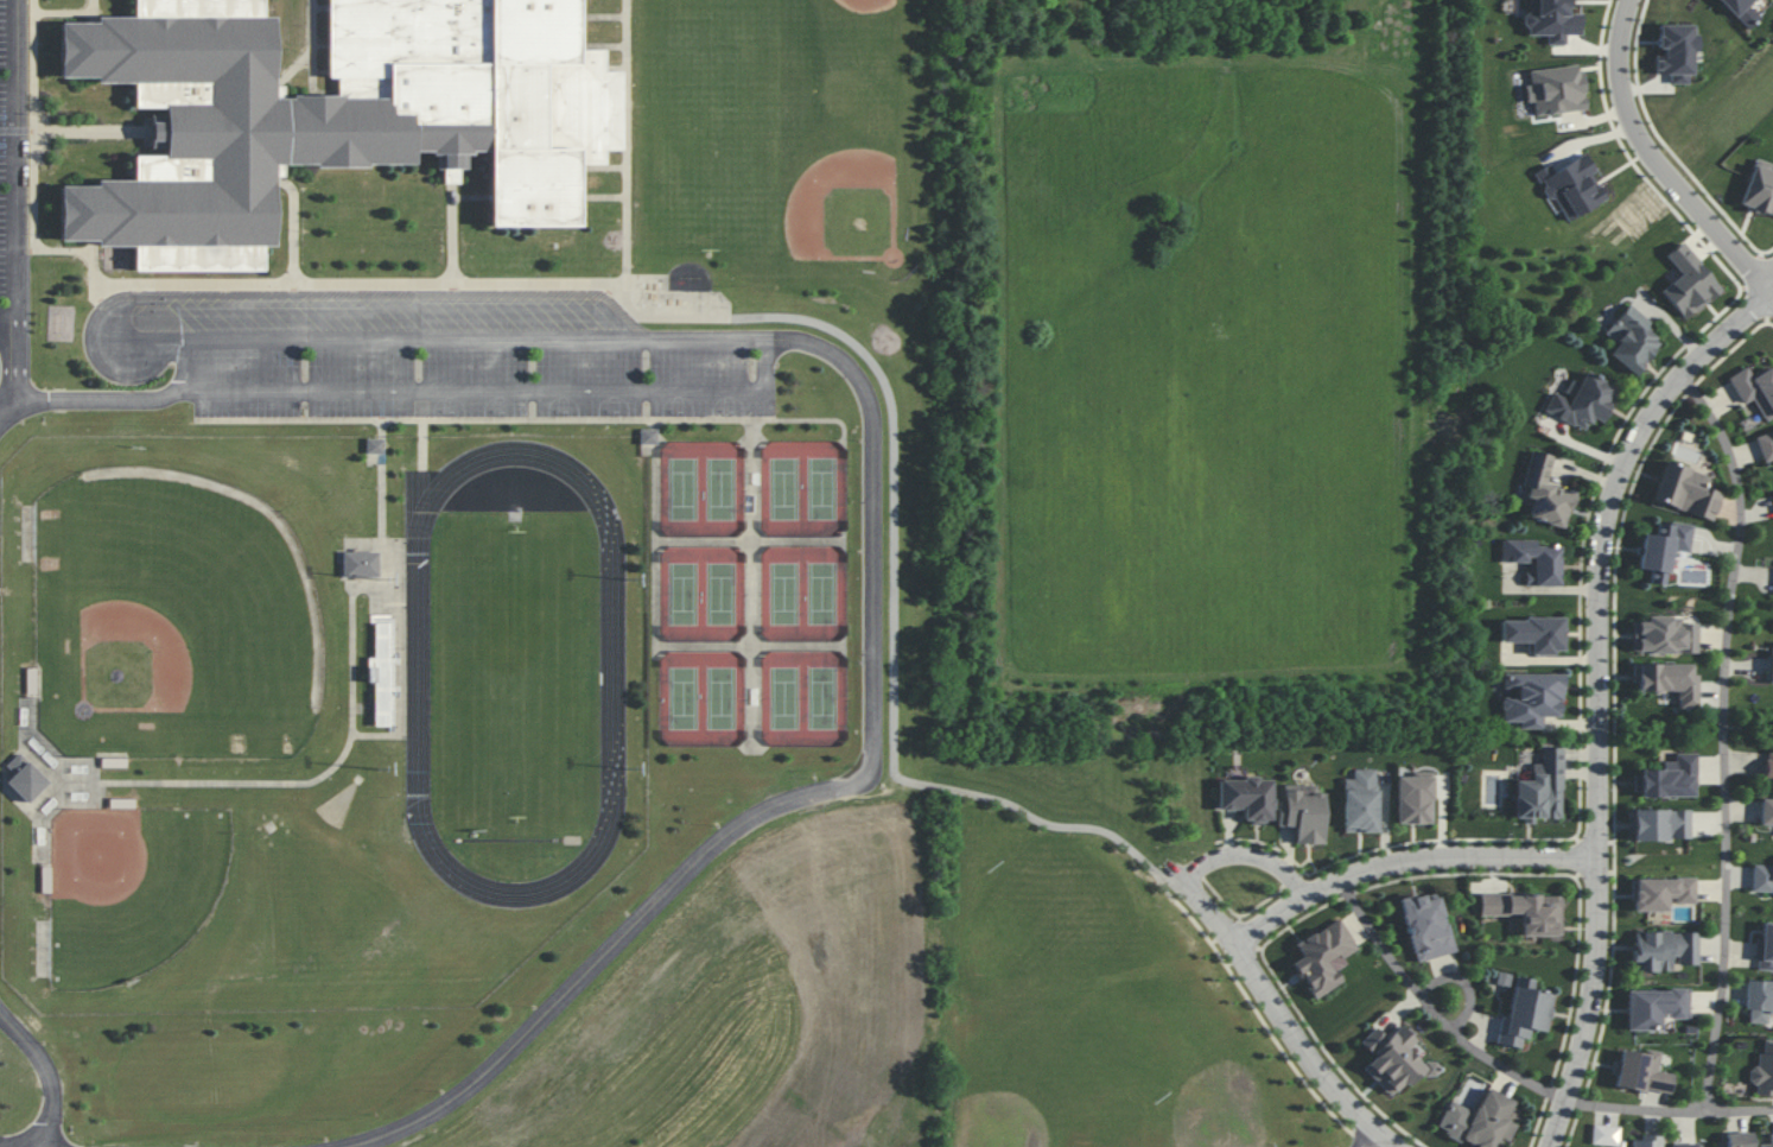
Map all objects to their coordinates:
building: (1734, 5)
building: (1551, 20)
building: (1675, 51)
building: (1556, 89)
building: (335, 115)
road: (1648, 154)
building: (1571, 186)
building: (1759, 188)
road: (7, 203)
road: (1766, 272)
building: (1688, 283)
road: (1766, 286)
road: (4, 335)
building: (1631, 338)
road: (458, 344)
road: (498, 387)
building: (1755, 388)
building: (1581, 400)
road: (80, 401)
building: (648, 436)
building: (374, 445)
building: (1765, 445)
building: (1685, 490)
building: (1545, 492)
building: (1663, 549)
building: (1533, 560)
building: (360, 564)
park: (757, 589)
building: (1533, 633)
building: (1664, 635)
road: (897, 646)
building: (1771, 663)
track: (611, 673)
park: (516, 674)
building: (1669, 680)
park: (178, 692)
road: (1600, 692)
building: (1531, 698)
road: (1723, 736)
building: (1768, 766)
building: (25, 778)
building: (1667, 778)
building: (1540, 788)
building: (1246, 797)
building: (1413, 798)
road: (787, 799)
building: (1360, 800)
building: (1766, 811)
building: (1302, 812)
building: (1660, 824)
road: (1250, 857)
road: (1410, 862)
building: (1762, 877)
building: (1660, 892)
building: (1527, 911)
building: (1425, 926)
building: (1765, 948)
building: (1664, 950)
building: (1323, 957)
road: (1473, 984)
building: (1759, 1000)
building: (1654, 1007)
building: (1524, 1013)
road: (1285, 1021)
building: (1393, 1059)
road: (47, 1069)
building: (1640, 1071)
building: (1762, 1071)
road: (1517, 1073)
building: (1478, 1120)
building: (1604, 1134)
building: (1769, 1138)
road: (1372, 1139)
building: (1739, 1139)
building: (1645, 1141)
building: (1685, 1145)

